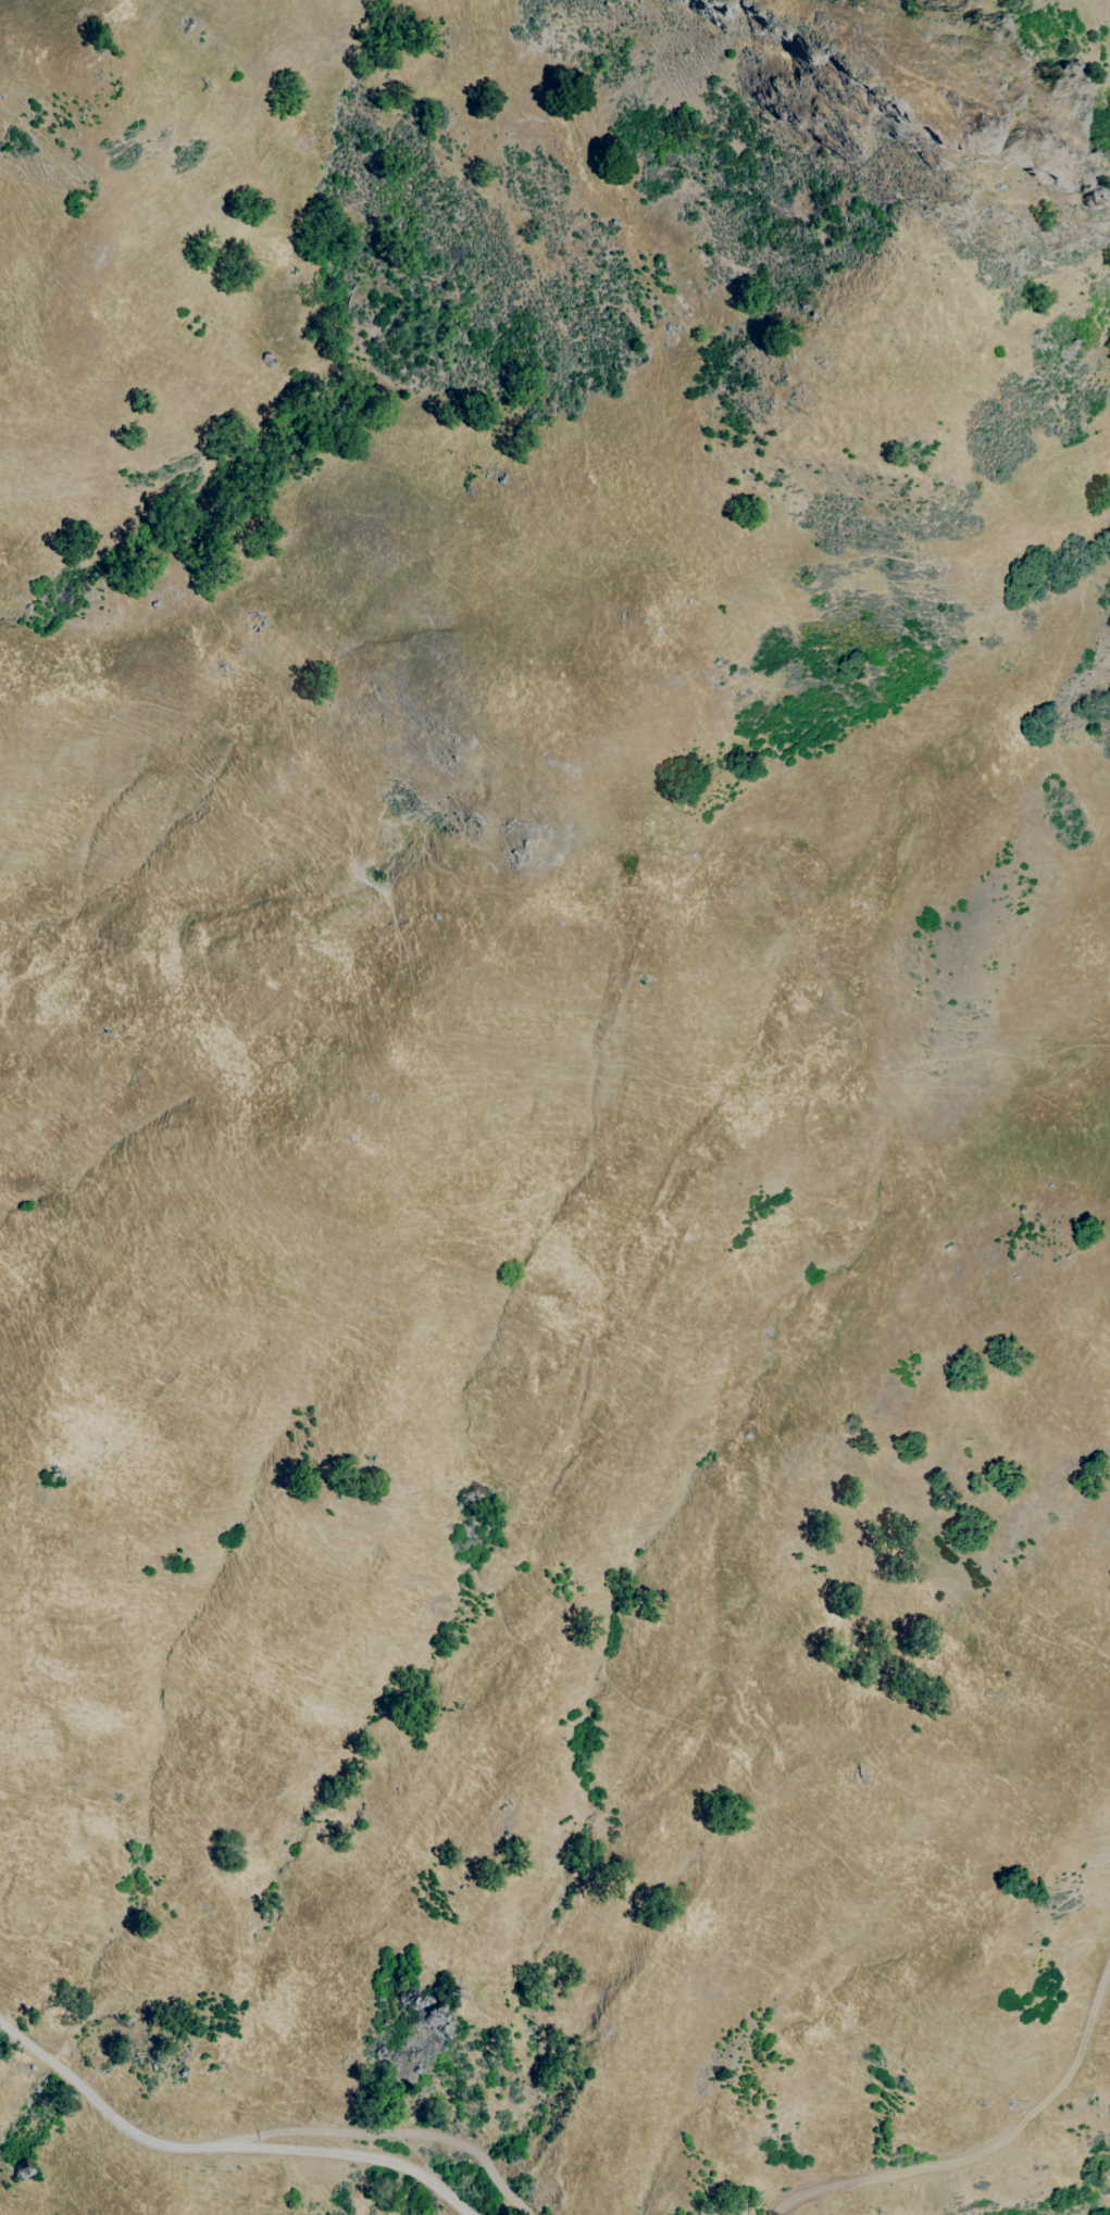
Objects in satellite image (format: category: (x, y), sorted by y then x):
road: (390, 2132)
road: (993, 2144)
road: (221, 2151)

